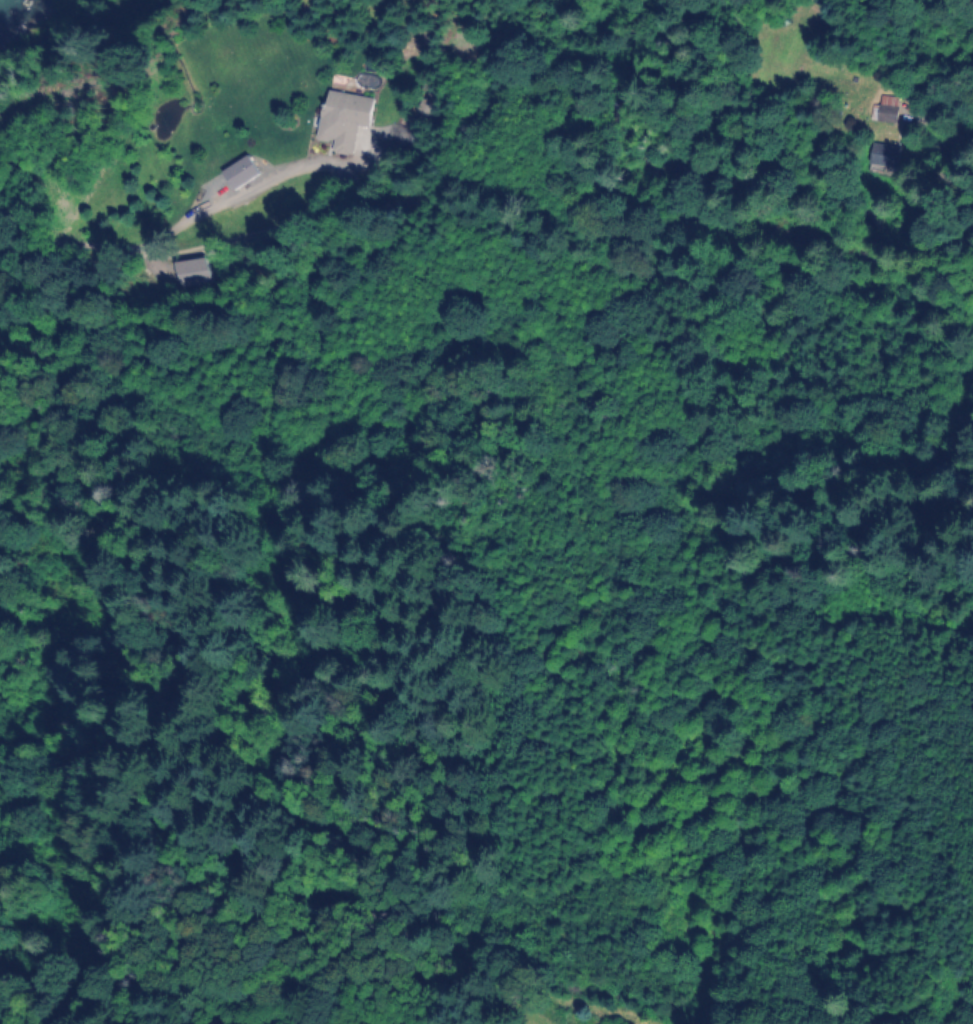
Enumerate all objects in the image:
river: (53, 27)
building: (884, 114)
building: (350, 121)
building: (880, 155)
building: (246, 170)
road: (373, 211)

